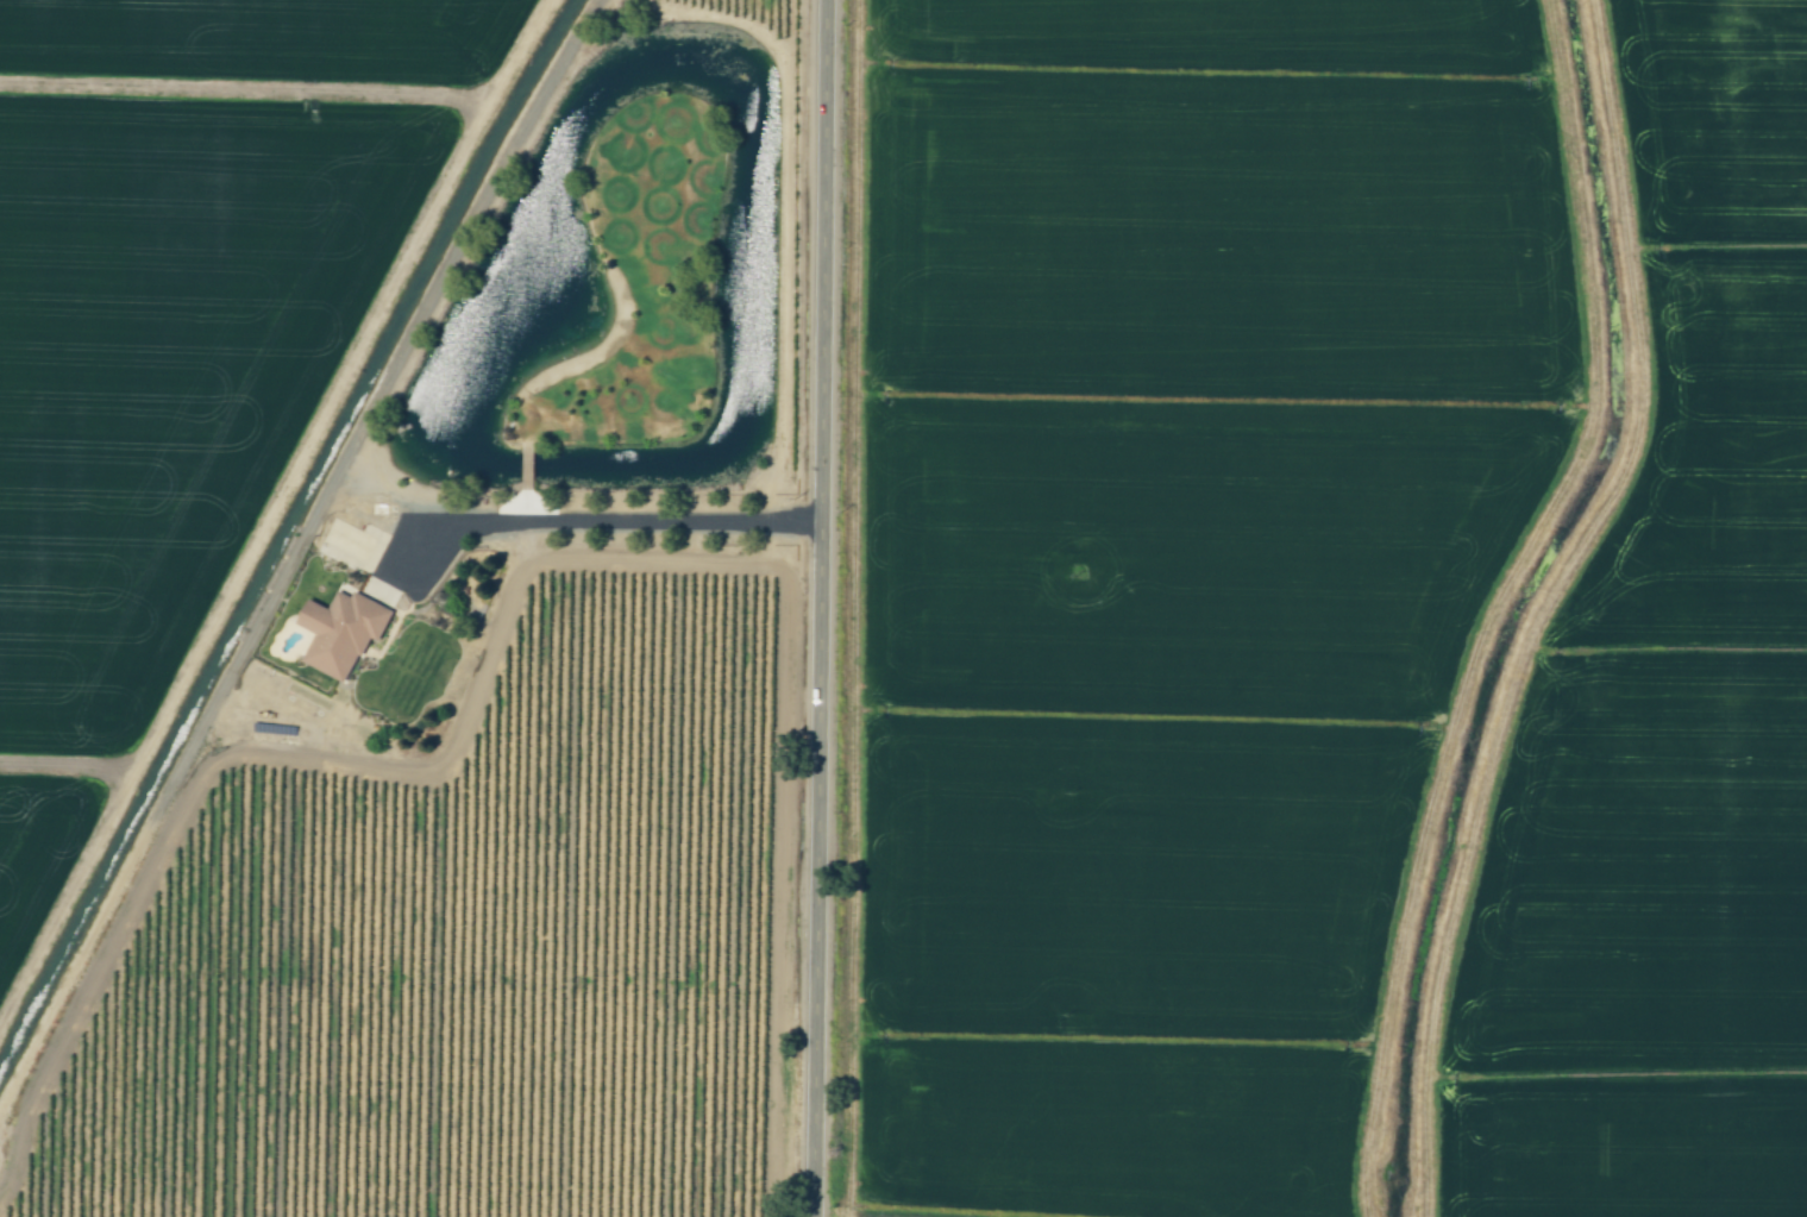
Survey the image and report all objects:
road: (446, 264)
road: (623, 523)
road: (822, 608)
building: (341, 635)
crop: (1659, 705)

